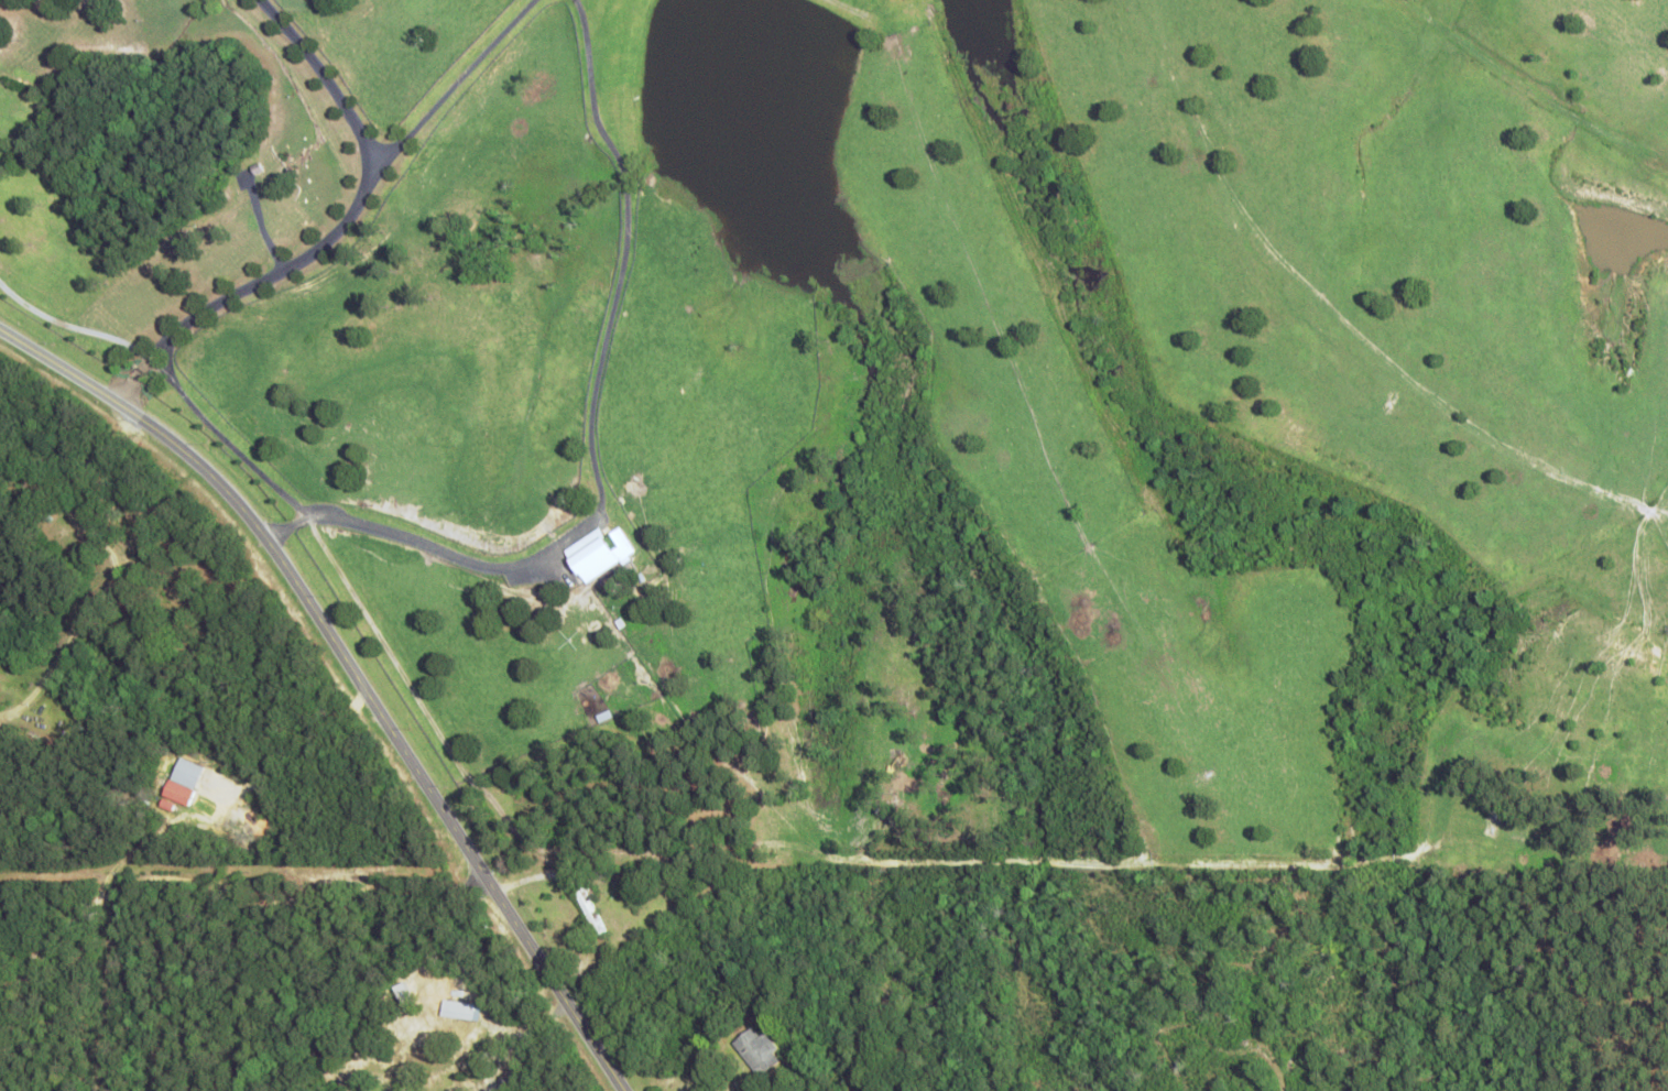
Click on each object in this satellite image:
building: (597, 552)
road: (353, 669)
building: (182, 779)
building: (459, 1010)
building: (755, 1049)
building: (479, 1090)

